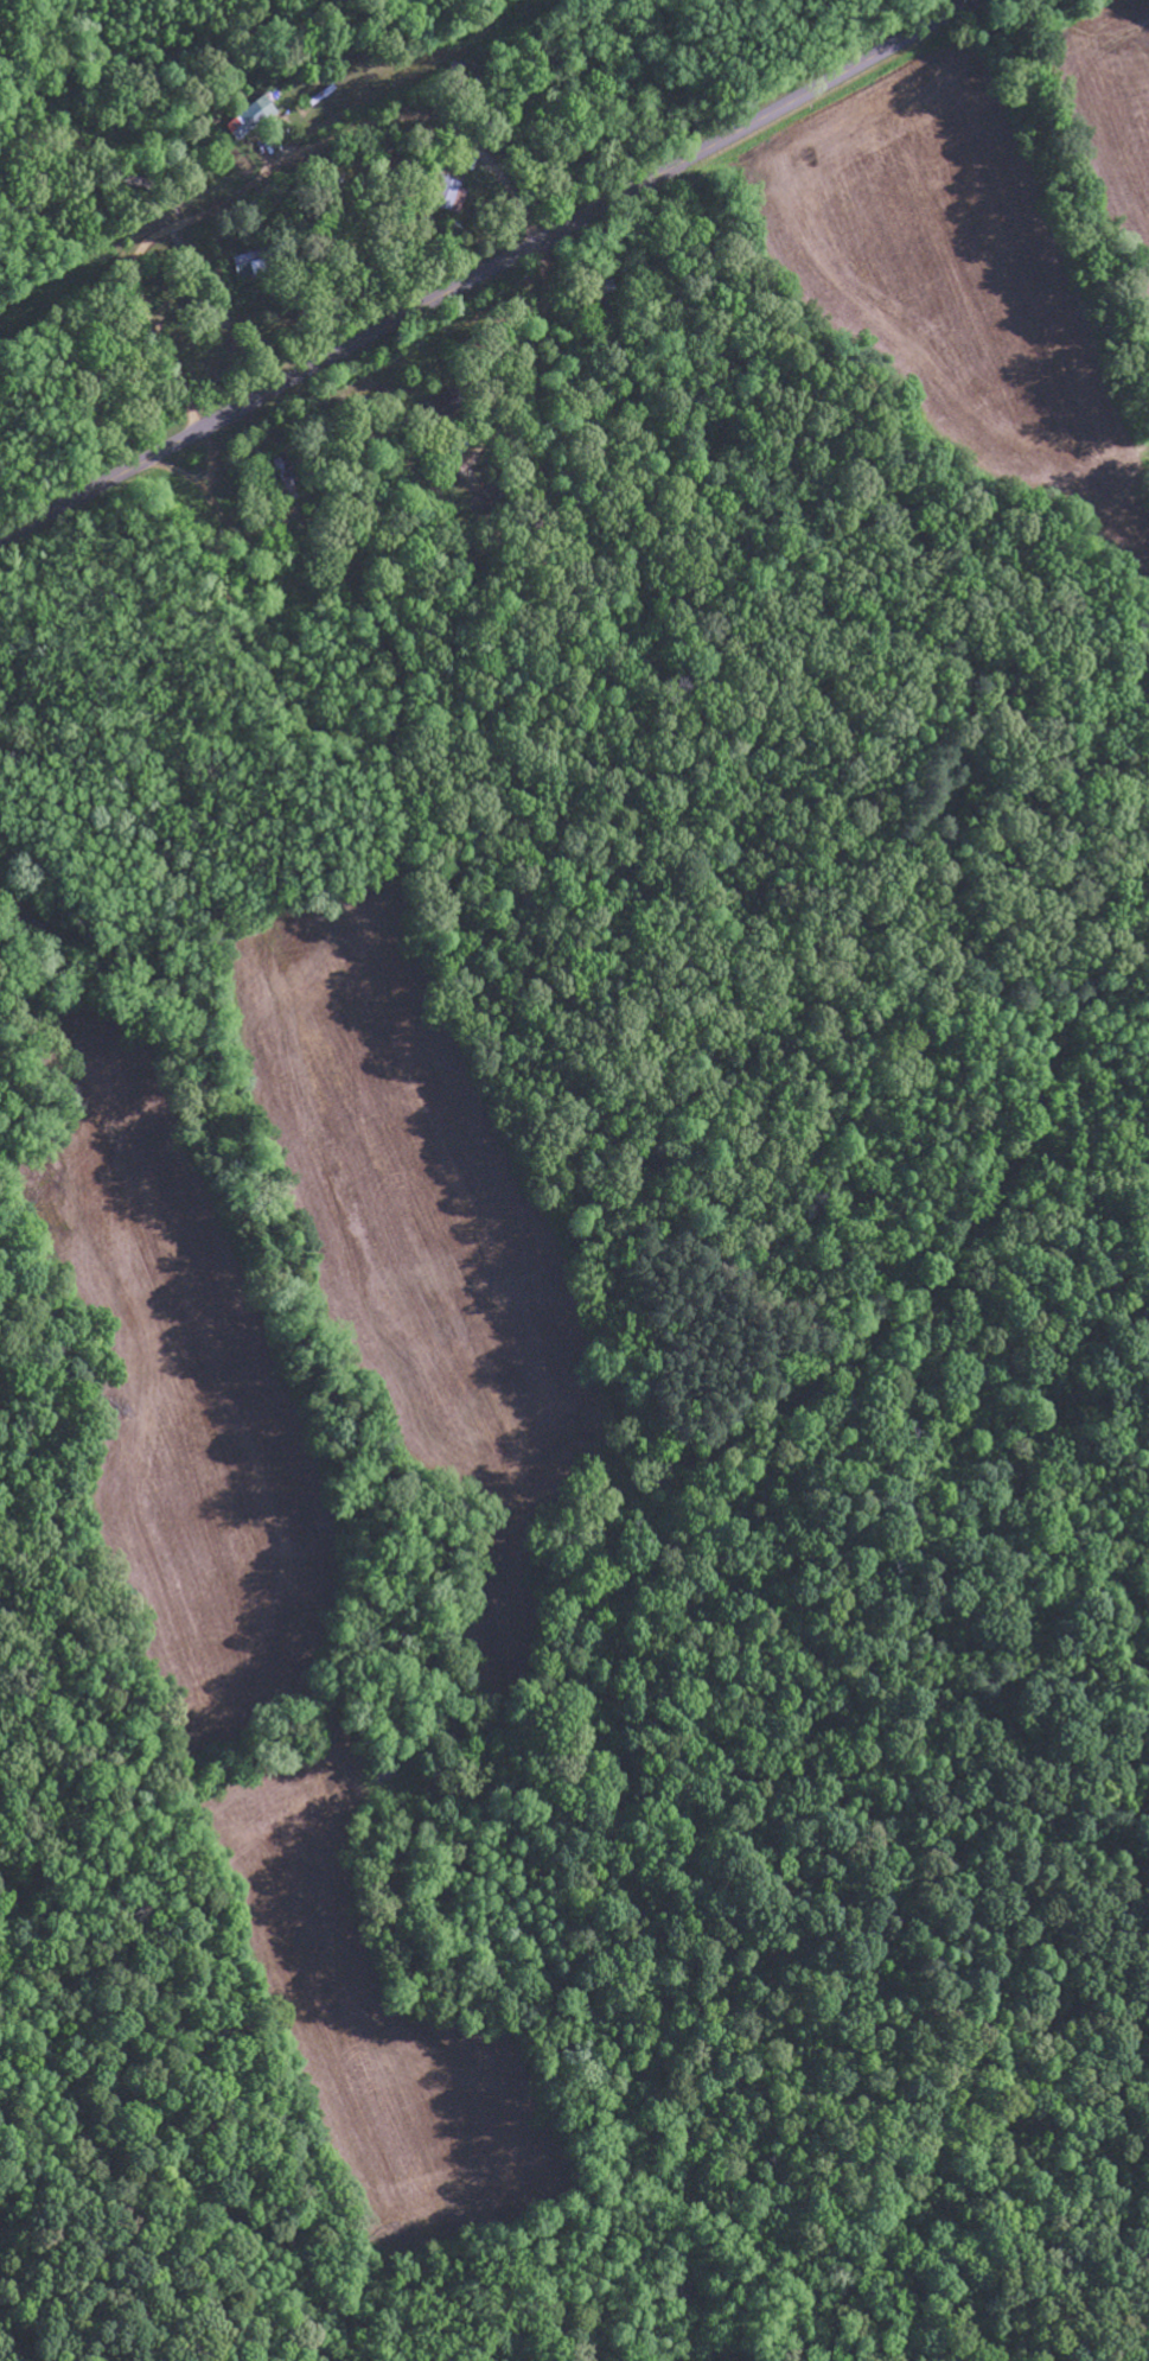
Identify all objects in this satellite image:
road: (141, 112)
road: (382, 125)
road: (299, 182)
road: (486, 273)
road: (151, 320)

